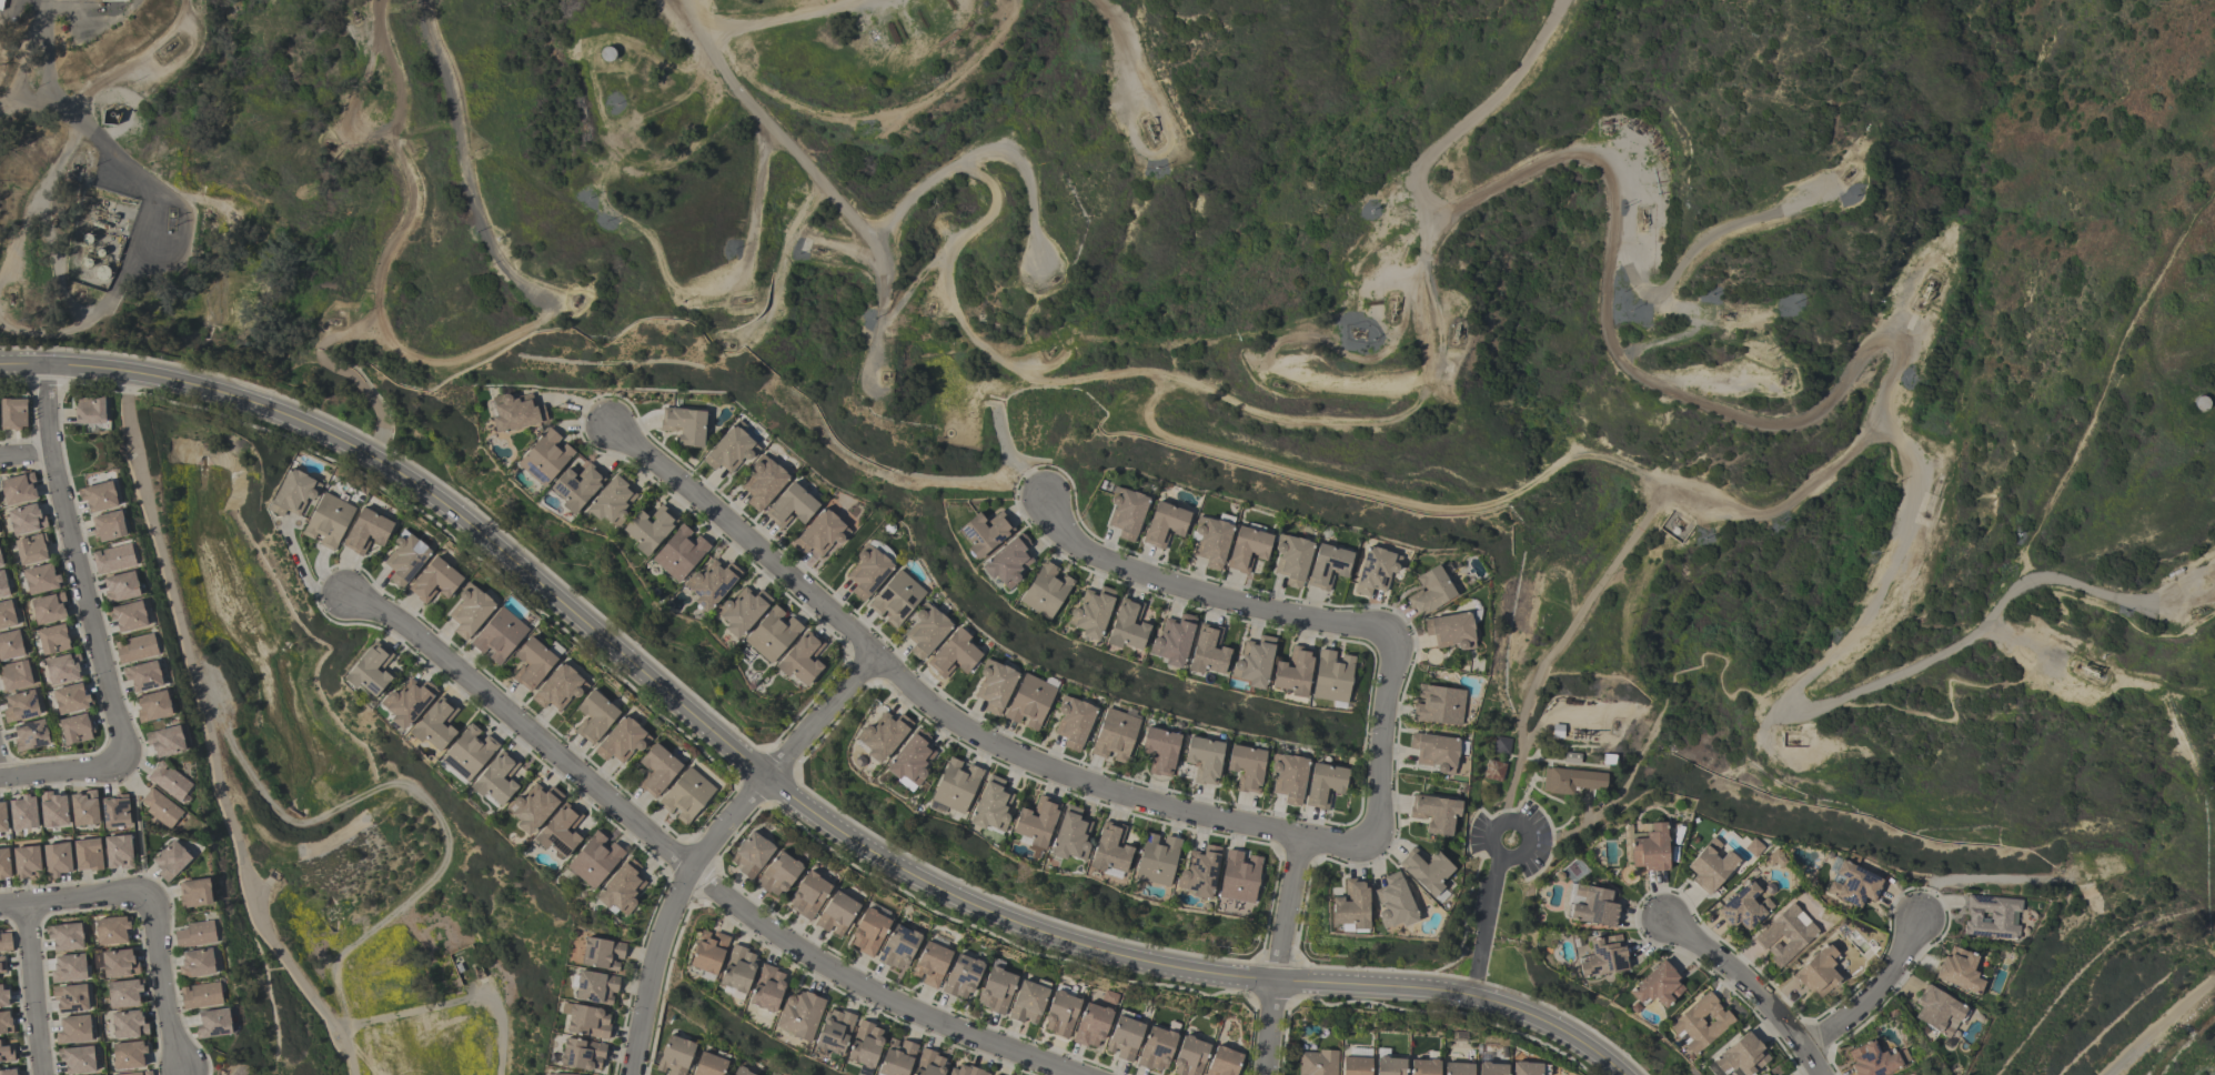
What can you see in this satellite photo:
building: (113, 0)
building: (1, 4)
petroleum well: (355, 19)
petroleum well: (167, 47)
building: (607, 56)
storage tank: (607, 56)
road: (1137, 71)
petroleum well: (1149, 130)
road: (113, 153)
road: (986, 157)
road: (410, 167)
road: (463, 168)
petroleum well: (1845, 172)
road: (822, 182)
petroleum well: (1642, 215)
road: (754, 222)
road: (49, 232)
road: (1698, 247)
road: (782, 265)
petroleum well: (1051, 279)
road: (1395, 285)
petroleum well: (1926, 287)
road: (947, 291)
road: (1913, 292)
petroleum well: (13, 297)
petroleum well: (577, 300)
petroleum well: (746, 300)
petroleum well: (1391, 308)
road: (1439, 311)
petroleum well: (1724, 313)
petroleum well: (330, 323)
petroleum well: (1454, 329)
petroleum well: (727, 344)
road: (469, 352)
road: (328, 365)
road: (1428, 370)
building: (90, 410)
building: (514, 412)
building: (12, 413)
building: (685, 425)
road: (1793, 426)
road: (380, 443)
road: (1005, 448)
building: (731, 450)
road: (26, 455)
building: (545, 456)
road: (885, 478)
road: (1317, 481)
building: (763, 483)
building: (575, 488)
building: (18, 489)
building: (293, 493)
building: (98, 496)
building: (611, 499)
building: (791, 506)
building: (1121, 516)
building: (26, 519)
building: (328, 521)
building: (109, 525)
building: (1159, 528)
building: (648, 530)
building: (366, 531)
building: (820, 533)
building: (984, 533)
building: (31, 549)
building: (1250, 552)
building: (679, 553)
building: (405, 557)
building: (112, 559)
building: (1007, 561)
building: (0, 562)
building: (1295, 563)
road: (80, 565)
building: (1330, 569)
building: (867, 573)
building: (1376, 574)
building: (41, 579)
building: (435, 581)
building: (711, 583)
building: (2, 585)
building: (120, 586)
building: (1045, 590)
road: (1200, 592)
building: (1434, 593)
building: (896, 599)
building: (48, 609)
building: (470, 610)
petroleum well: (2198, 610)
building: (742, 611)
building: (7, 614)
building: (128, 615)
building: (1089, 616)
building: (927, 633)
building: (1122, 633)
building: (1452, 633)
building: (772, 634)
building: (499, 635)
building: (52, 639)
building: (10, 645)
building: (134, 649)
building: (954, 654)
building: (1202, 659)
road: (1718, 659)
building: (802, 660)
road: (2033, 660)
building: (532, 663)
building: (1257, 664)
building: (62, 669)
petroleum well: (2088, 669)
building: (370, 671)
building: (1298, 673)
building: (17, 674)
building: (142, 676)
building: (1337, 677)
building: (995, 685)
road: (1987, 687)
building: (557, 689)
road: (1851, 696)
road: (1668, 697)
building: (70, 699)
building: (1029, 702)
building: (406, 703)
building: (152, 705)
building: (1441, 705)
building: (20, 706)
road: (945, 715)
building: (594, 716)
building: (1069, 721)
building: (434, 724)
building: (74, 729)
building: (30, 735)
building: (883, 735)
building: (1111, 735)
road: (211, 736)
building: (165, 741)
building: (621, 741)
road: (1382, 741)
building: (1502, 747)
building: (469, 752)
building: (1156, 752)
building: (1440, 753)
building: (910, 758)
building: (1199, 758)
building: (657, 770)
building: (1249, 770)
road: (61, 772)
building: (1494, 772)
building: (495, 780)
building: (1292, 780)
building: (170, 782)
building: (1573, 783)
building: (955, 785)
road: (778, 786)
building: (1328, 786)
building: (685, 795)
building: (990, 805)
building: (160, 807)
building: (533, 807)
building: (83, 808)
building: (53, 810)
building: (114, 812)
building: (22, 813)
building: (1440, 814)
building: (2, 817)
road: (1593, 818)
building: (1035, 822)
road: (1501, 826)
building: (560, 831)
building: (1067, 832)
road: (1468, 835)
road: (713, 841)
flagpole: (1509, 843)
building: (1655, 851)
building: (118, 852)
building: (87, 854)
building: (751, 854)
building: (57, 858)
building: (170, 860)
building: (594, 860)
building: (1106, 860)
building: (26, 862)
building: (3, 863)
road: (691, 866)
building: (1154, 867)
building: (1715, 867)
building: (1432, 872)
building: (777, 873)
building: (1244, 878)
building: (1856, 886)
building: (621, 887)
building: (194, 893)
building: (807, 895)
road: (73, 898)
building: (1400, 903)
building: (1358, 906)
building: (1600, 908)
building: (1751, 910)
building: (836, 913)
building: (1997, 918)
road: (1488, 927)
building: (111, 930)
building: (868, 932)
building: (193, 934)
building: (64, 936)
building: (1790, 936)
building: (4, 942)
building: (898, 947)
building: (708, 953)
building: (602, 954)
road: (1280, 954)
building: (1609, 958)
building: (118, 963)
building: (195, 963)
building: (930, 964)
building: (1, 965)
building: (68, 967)
building: (737, 968)
building: (1967, 972)
building: (1824, 974)
building: (961, 976)
road: (164, 984)
building: (595, 987)
building: (766, 988)
building: (1664, 988)
road: (33, 989)
building: (996, 989)
road: (1753, 989)
building: (123, 993)
road: (1875, 993)
building: (3, 995)
building: (200, 995)
building: (70, 997)
building: (1027, 1002)
road: (1546, 1007)
building: (798, 1014)
building: (1060, 1014)
building: (1945, 1014)
building: (587, 1022)
road: (2154, 1022)
building: (4, 1023)
building: (213, 1023)
building: (128, 1024)
building: (1708, 1024)
building: (1089, 1028)
building: (73, 1029)
building: (834, 1031)
building: (864, 1045)
building: (1135, 1046)
building: (6, 1052)
building: (128, 1054)
building: (582, 1054)
building: (674, 1056)
building: (896, 1057)
building: (1746, 1058)
building: (78, 1059)
building: (1195, 1061)
building: (1877, 1062)
building: (929, 1063)
building: (1321, 1064)
building: (708, 1065)
building: (1360, 1066)
building: (1395, 1067)
building: (1428, 1068)
building: (1461, 1069)
building: (1496, 1069)
building: (1529, 1069)
building: (963, 1071)
building: (8, 1072)
building: (741, 1072)
building: (133, 1073)
building: (560, 1074)

